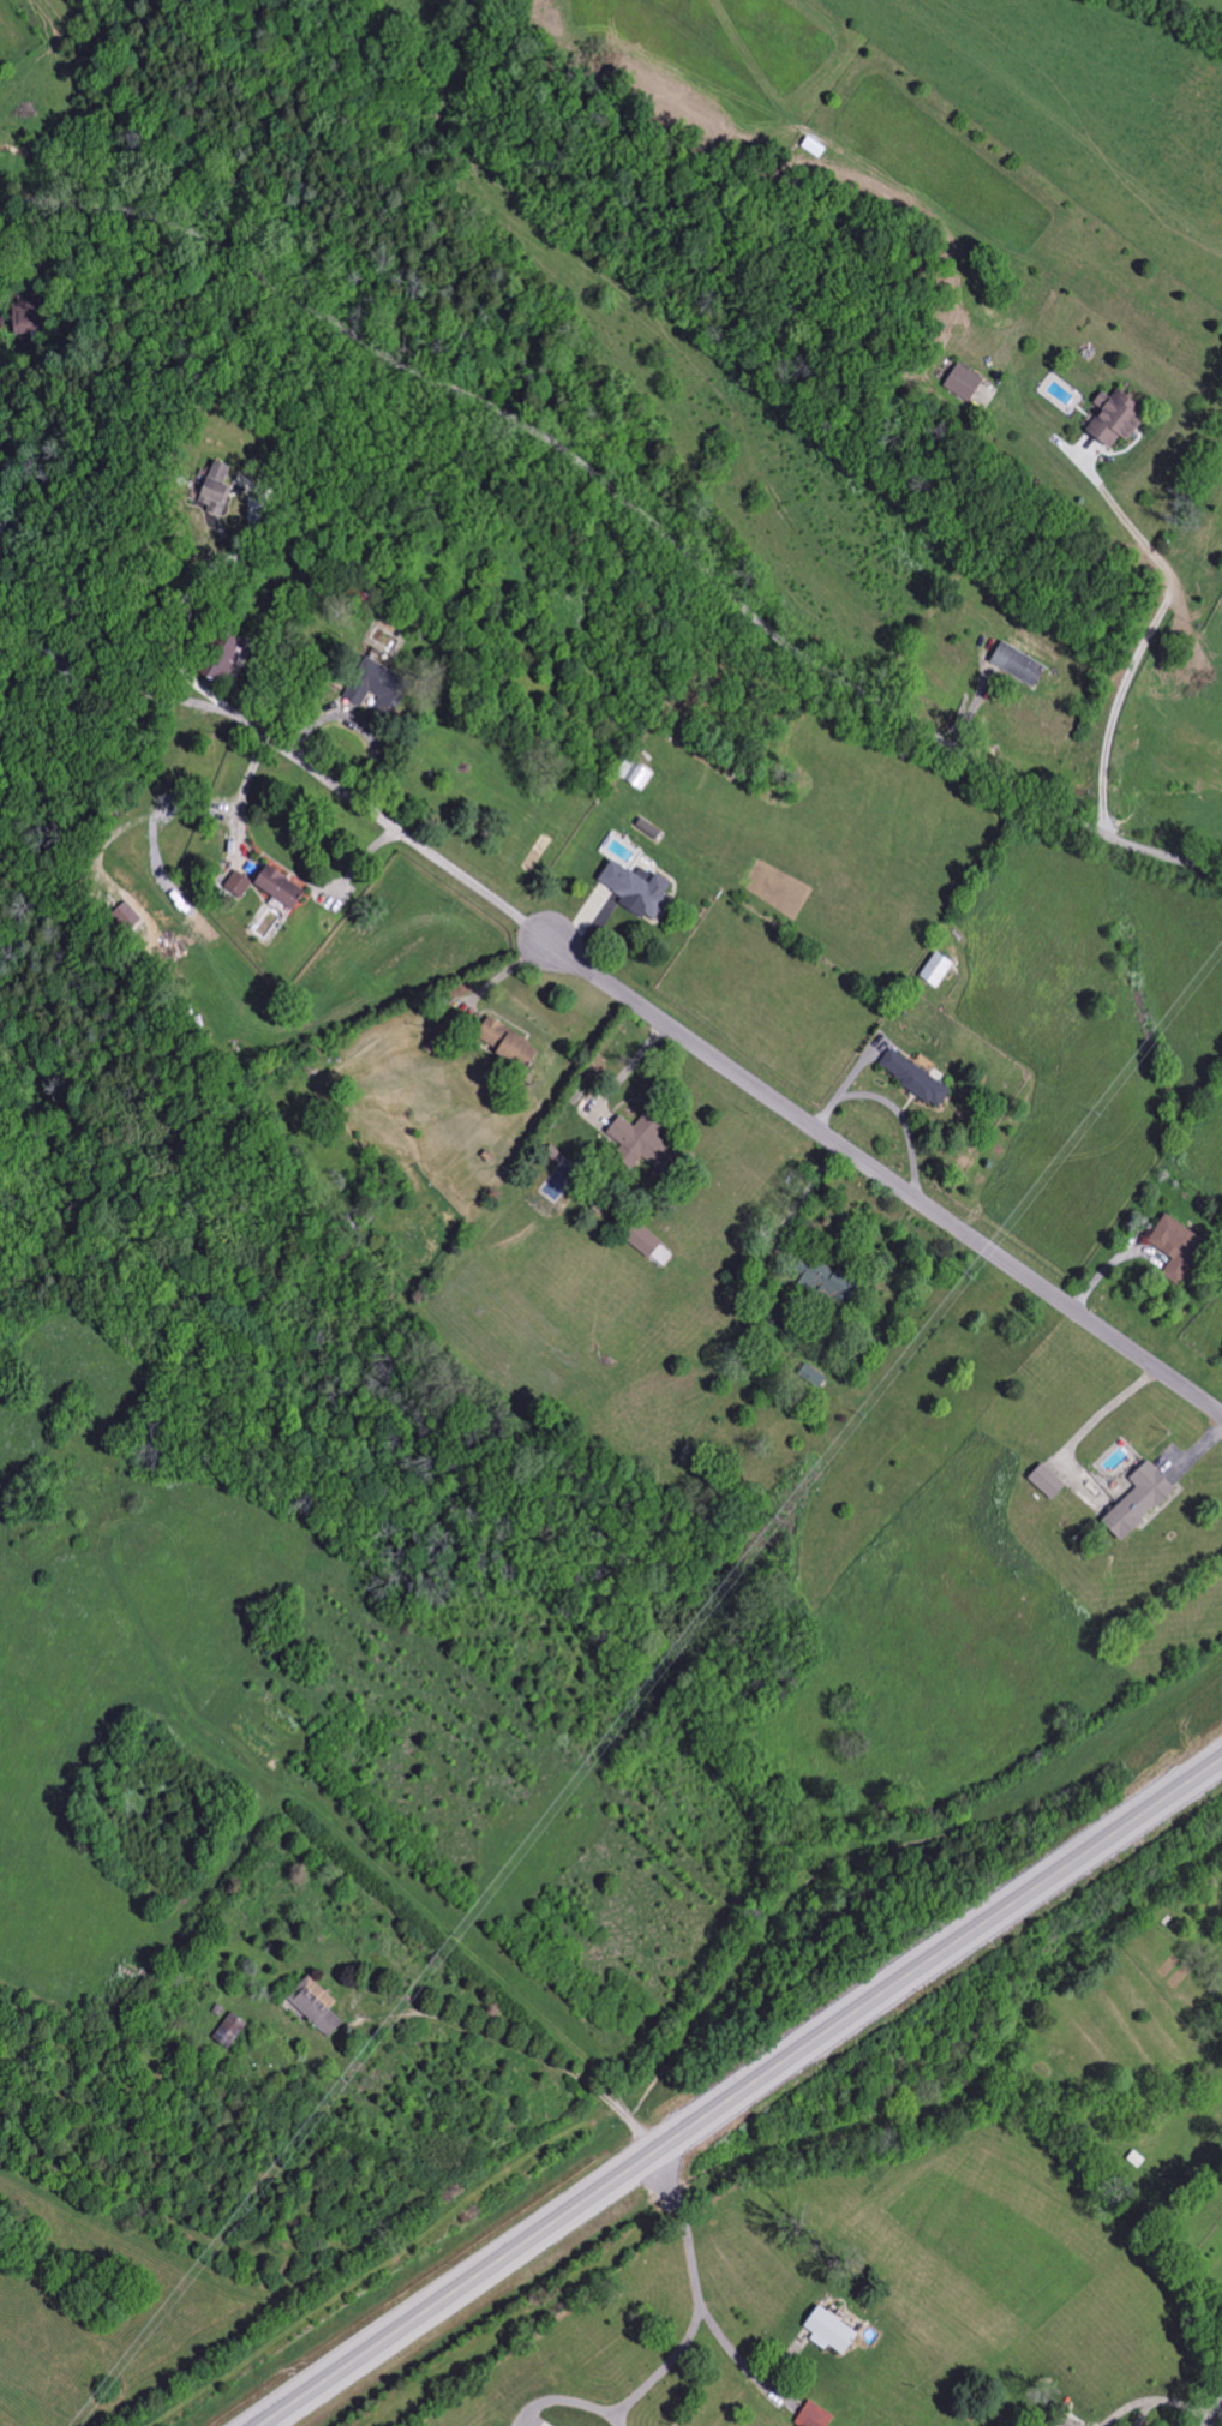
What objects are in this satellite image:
building: (960, 383)
building: (1108, 419)
building: (214, 489)
road: (624, 502)
road: (170, 628)
road: (1143, 635)
building: (216, 660)
building: (1014, 664)
building: (371, 687)
road: (113, 708)
building: (633, 774)
building: (236, 885)
building: (275, 887)
building: (633, 888)
building: (124, 917)
building: (933, 970)
building: (503, 1044)
road: (712, 1058)
building: (910, 1078)
building: (634, 1142)
building: (640, 1240)
building: (1173, 1247)
building: (817, 1281)
building: (810, 1377)
building: (1043, 1481)
building: (1136, 1500)
building: (313, 2007)
road: (469, 2023)
building: (229, 2032)
road: (741, 2092)
building: (827, 2332)
road: (682, 2346)
road: (736, 2361)
road: (1216, 2418)

